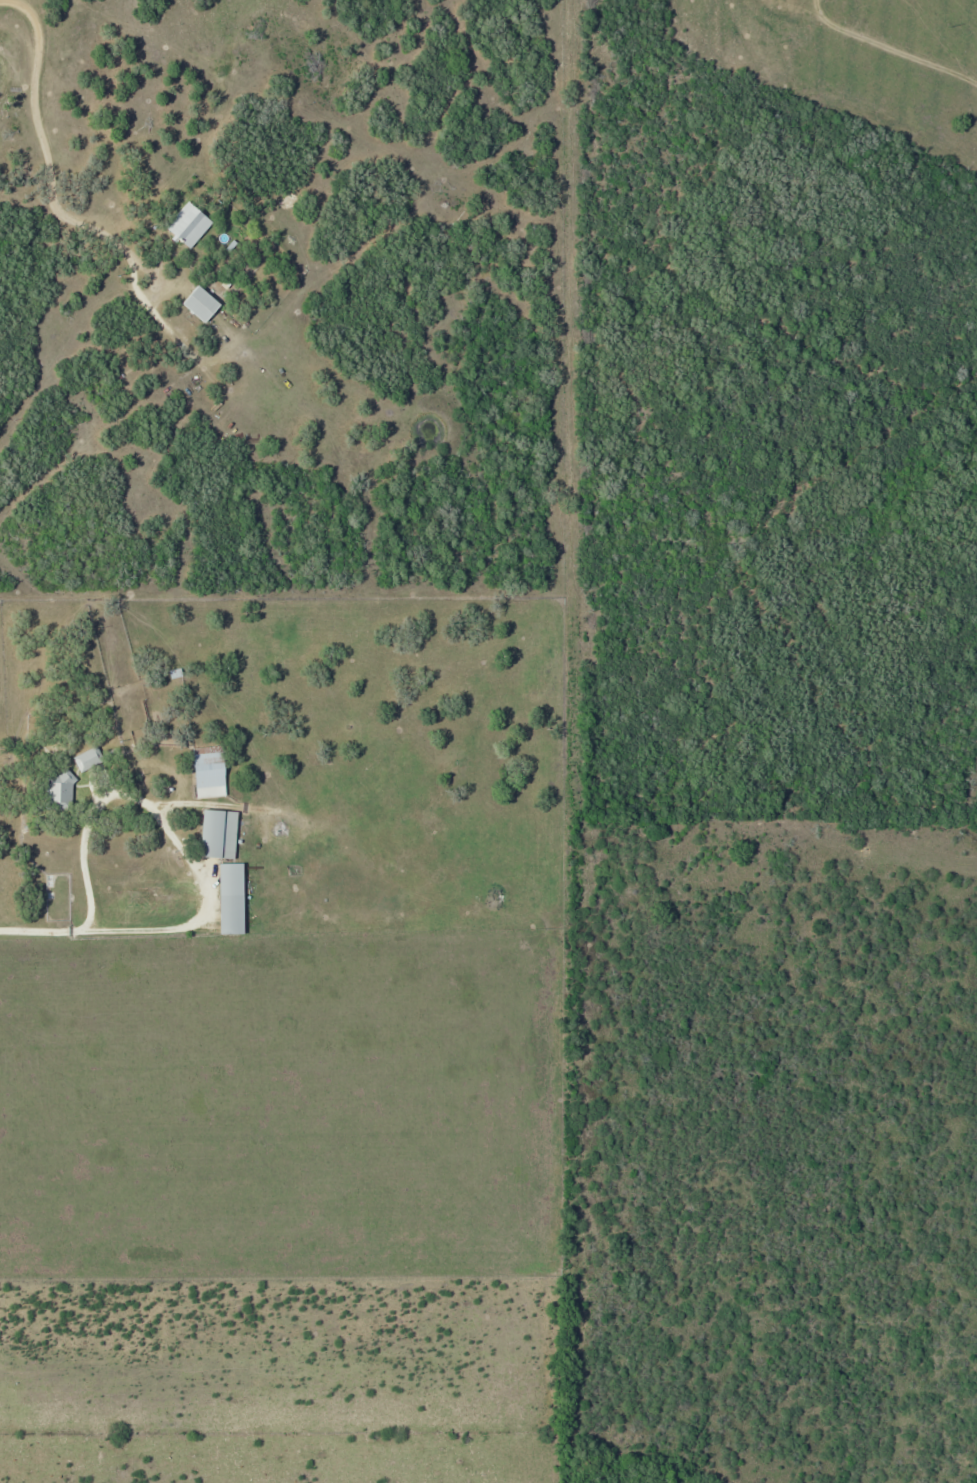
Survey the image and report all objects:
road: (3, 0)
road: (54, 185)
building: (154, 197)
building: (188, 221)
building: (233, 242)
building: (195, 254)
building: (225, 279)
building: (201, 299)
building: (88, 758)
building: (209, 765)
building: (61, 785)
road: (132, 791)
building: (218, 829)
building: (230, 894)
road: (134, 924)
road: (39, 931)

